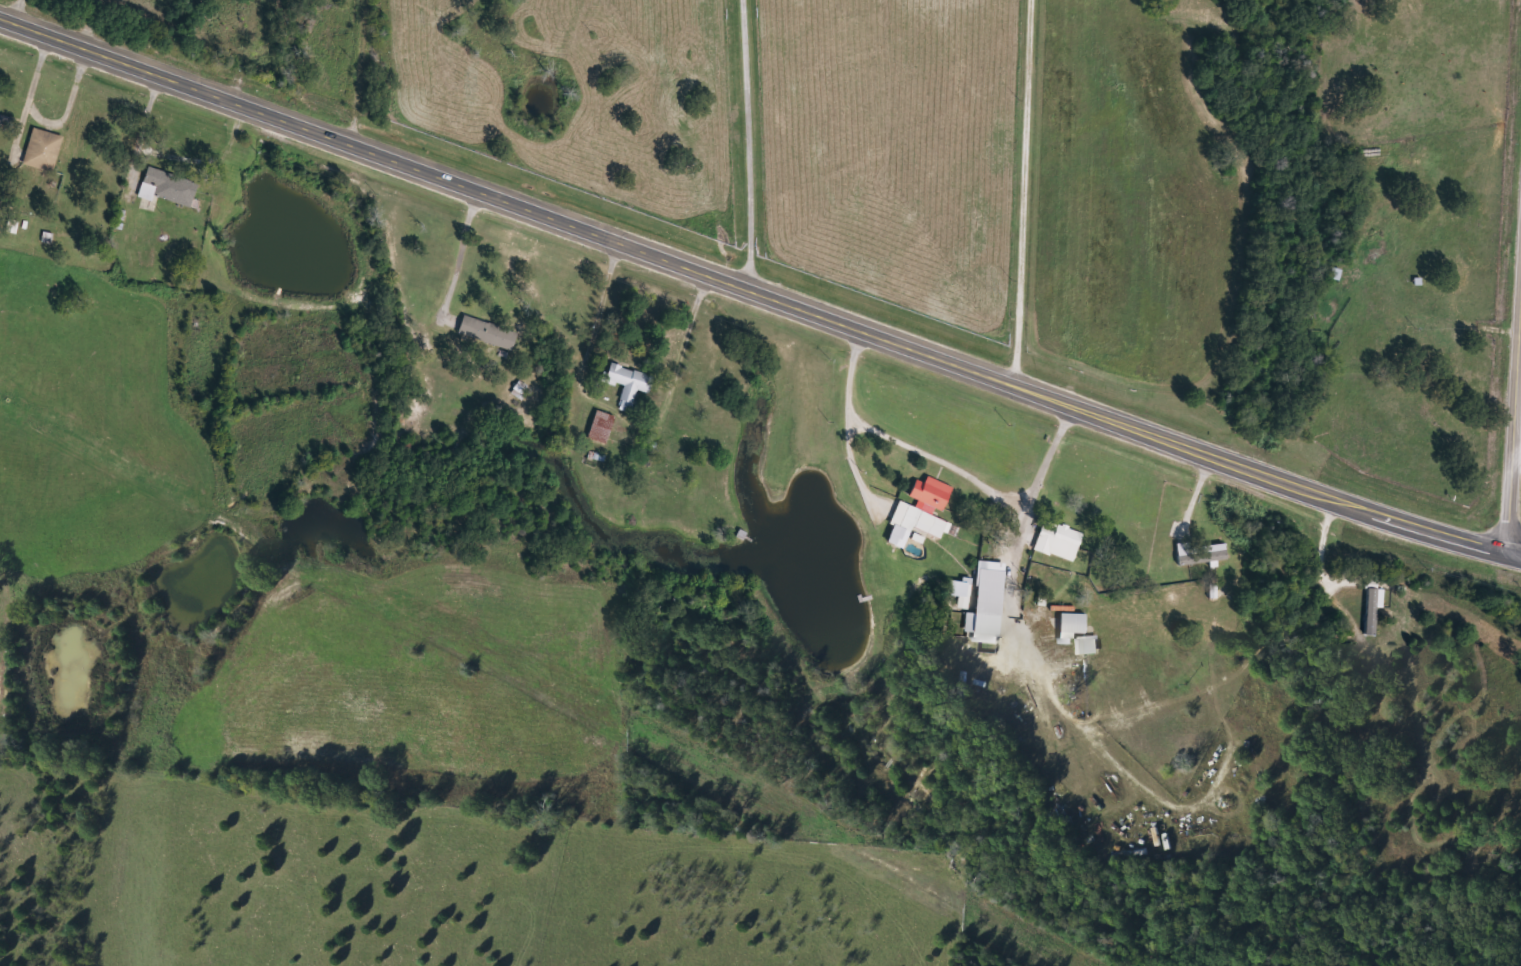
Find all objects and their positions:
road: (224, 49)
road: (350, 72)
road: (732, 140)
building: (43, 150)
building: (167, 187)
road: (1027, 189)
road: (753, 285)
building: (489, 332)
building: (629, 383)
road: (851, 423)
road: (1513, 423)
building: (602, 426)
road: (1046, 464)
building: (932, 492)
road: (992, 494)
building: (926, 507)
building: (915, 524)
building: (1059, 541)
building: (1201, 553)
road: (1513, 555)
building: (961, 591)
building: (988, 604)
building: (1374, 608)
building: (1072, 626)
building: (1088, 645)

